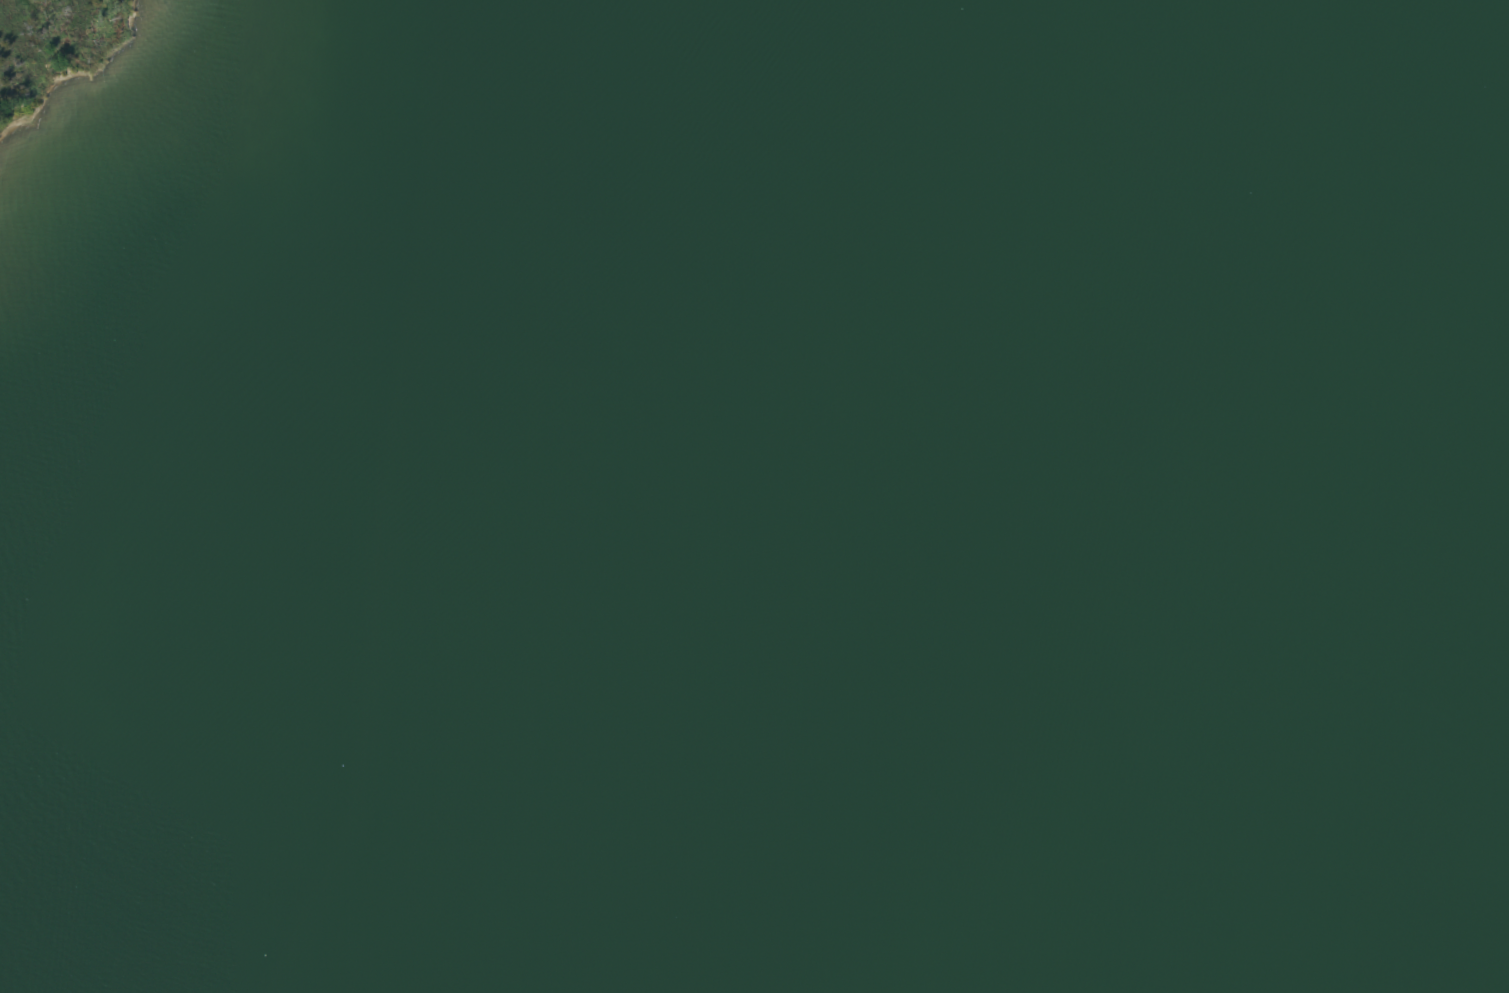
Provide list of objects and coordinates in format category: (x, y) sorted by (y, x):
park: (60, 51)

